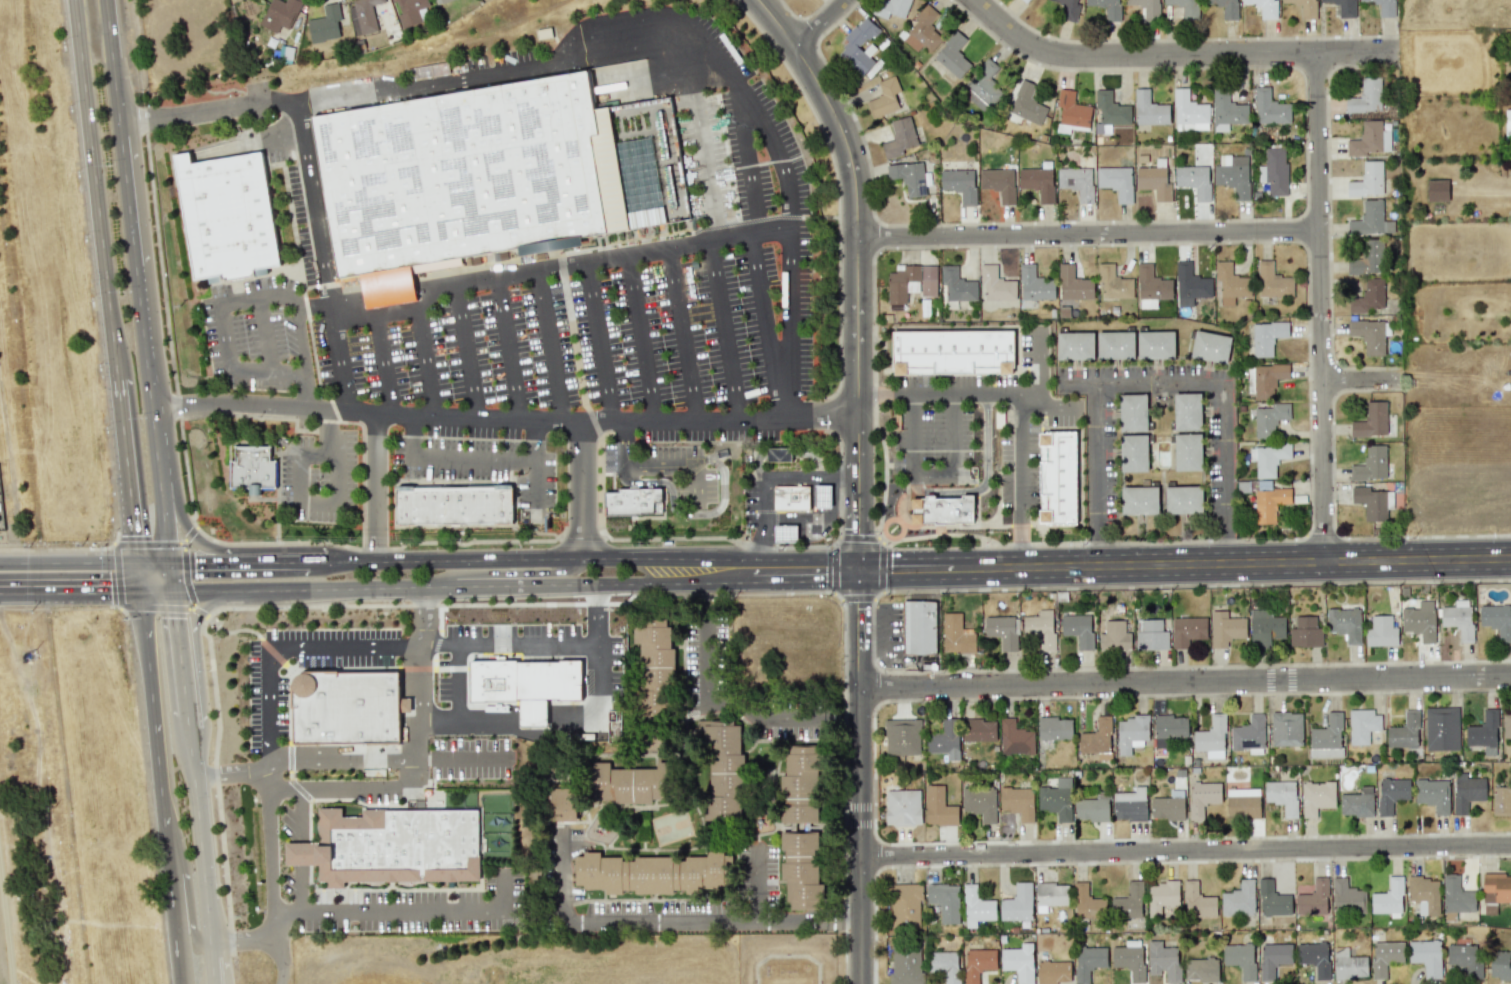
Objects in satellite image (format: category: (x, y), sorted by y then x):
building: (1023, 0)
building: (439, 1)
building: (1185, 7)
building: (1225, 7)
building: (1304, 7)
building: (1343, 7)
building: (1383, 7)
building: (891, 8)
building: (1107, 8)
building: (1265, 8)
building: (1069, 9)
building: (1147, 9)
building: (408, 11)
building: (280, 14)
building: (363, 15)
road: (821, 23)
building: (324, 25)
road: (107, 29)
building: (922, 31)
building: (858, 46)
building: (952, 55)
road: (1178, 55)
road: (404, 84)
building: (982, 87)
road: (114, 89)
building: (1366, 96)
building: (884, 97)
building: (1026, 103)
building: (1270, 108)
building: (1072, 109)
building: (1111, 109)
building: (1149, 109)
building: (1228, 111)
building: (1189, 112)
road: (764, 120)
building: (1508, 122)
building: (900, 137)
building: (1369, 139)
road: (705, 140)
road: (750, 153)
building: (460, 169)
building: (1274, 171)
building: (1233, 175)
building: (908, 177)
building: (1077, 178)
building: (1194, 180)
building: (1367, 180)
building: (1153, 181)
building: (1037, 182)
building: (1116, 182)
building: (998, 183)
building: (959, 184)
road: (837, 188)
building: (1437, 190)
road: (126, 192)
road: (315, 206)
building: (225, 210)
road: (1328, 215)
building: (1370, 219)
road: (1088, 235)
road: (624, 242)
building: (1367, 258)
road: (104, 266)
road: (254, 271)
road: (559, 271)
building: (928, 280)
building: (1272, 281)
building: (1113, 283)
building: (1229, 283)
building: (902, 284)
building: (996, 284)
building: (1034, 284)
building: (1073, 284)
building: (1190, 284)
building: (956, 285)
road: (303, 295)
building: (1367, 296)
road: (790, 301)
road: (1321, 306)
parking lot: (624, 315)
road: (765, 328)
parking lot: (253, 331)
road: (724, 332)
road: (683, 335)
building: (1369, 335)
building: (1266, 337)
road: (267, 338)
road: (639, 340)
road: (599, 343)
building: (1075, 345)
building: (1115, 345)
building: (1155, 345)
road: (143, 346)
building: (1210, 346)
road: (548, 347)
road: (507, 350)
building: (953, 351)
road: (465, 353)
road: (423, 356)
road: (382, 359)
road: (1038, 361)
road: (340, 362)
road: (1307, 363)
railway: (18, 372)
road: (305, 373)
road: (933, 373)
road: (1363, 378)
building: (1265, 379)
road: (1334, 379)
road: (1161, 382)
road: (1077, 383)
road: (874, 393)
road: (311, 395)
road: (583, 395)
road: (965, 395)
building: (1187, 411)
building: (1133, 412)
road: (503, 417)
building: (1270, 418)
road: (321, 420)
building: (1371, 420)
road: (1333, 427)
road: (326, 430)
road: (410, 433)
road: (912, 434)
road: (953, 434)
parking lot: (930, 437)
road: (533, 439)
road: (1099, 450)
road: (1227, 450)
road: (317, 451)
building: (1187, 452)
building: (1133, 453)
building: (779, 454)
road: (472, 456)
road: (1023, 458)
building: (1267, 458)
parking lot: (481, 462)
road: (1079, 464)
building: (1370, 464)
road: (656, 466)
parking lot: (1019, 466)
building: (252, 467)
parking lot: (687, 471)
road: (933, 474)
road: (1039, 474)
building: (1058, 476)
road: (297, 477)
road: (337, 477)
road: (858, 478)
parking lot: (319, 479)
road: (498, 479)
road: (985, 481)
road: (374, 485)
road: (757, 485)
road: (536, 487)
road: (581, 489)
road: (159, 494)
road: (278, 496)
building: (822, 496)
road: (263, 497)
building: (791, 497)
building: (1183, 499)
building: (1139, 500)
building: (633, 502)
building: (1370, 502)
road: (317, 503)
building: (1269, 503)
building: (453, 504)
building: (943, 509)
road: (977, 510)
road: (663, 511)
road: (695, 513)
road: (1332, 518)
road: (192, 520)
power substation: (1, 521)
road: (954, 525)
building: (785, 533)
road: (858, 533)
road: (578, 535)
road: (1101, 539)
road: (1231, 539)
road: (1024, 542)
road: (146, 543)
road: (776, 544)
road: (134, 546)
road: (216, 547)
road: (62, 548)
road: (534, 557)
road: (68, 558)
traffic signals: (136, 559)
road: (151, 560)
traffic signals: (166, 561)
road: (237, 561)
road: (1135, 561)
road: (882, 564)
road: (831, 568)
road: (183, 571)
road: (508, 572)
road: (138, 574)
road: (112, 576)
road: (465, 584)
road: (70, 586)
traffic signals: (140, 589)
road: (155, 589)
traffic signals: (170, 590)
road: (706, 594)
road: (856, 597)
road: (558, 601)
road: (154, 607)
road: (119, 608)
road: (597, 612)
building: (1458, 619)
building: (1420, 620)
building: (1497, 620)
building: (1345, 623)
building: (920, 627)
building: (1265, 627)
building: (1040, 628)
building: (1225, 628)
building: (1077, 629)
road: (872, 630)
building: (1187, 630)
building: (1003, 631)
road: (251, 632)
building: (1305, 632)
building: (1381, 632)
road: (438, 635)
building: (956, 635)
building: (1115, 635)
building: (1151, 635)
road: (175, 637)
road: (509, 644)
road: (195, 645)
road: (276, 646)
building: (654, 647)
parking lot: (705, 659)
road: (706, 659)
road: (451, 667)
road: (292, 669)
building: (525, 680)
road: (1185, 682)
road: (150, 697)
road: (581, 703)
road: (723, 704)
road: (1080, 705)
building: (346, 706)
parking lot: (266, 710)
building: (532, 713)
parking lot: (789, 715)
road: (784, 718)
road: (844, 718)
building: (1506, 724)
building: (1363, 725)
building: (1054, 728)
building: (1169, 728)
building: (1286, 728)
building: (1441, 728)
building: (979, 729)
building: (1404, 732)
building: (1131, 733)
building: (1484, 733)
building: (1248, 734)
building: (902, 736)
building: (1015, 738)
building: (1211, 738)
building: (1327, 738)
building: (1097, 739)
building: (945, 740)
road: (268, 768)
building: (723, 769)
road: (873, 770)
road: (416, 776)
building: (628, 784)
building: (800, 785)
building: (1467, 791)
building: (1391, 794)
building: (1433, 794)
building: (1282, 796)
railway: (67, 797)
building: (1317, 797)
building: (1202, 798)
building: (1056, 799)
building: (979, 801)
building: (1501, 801)
road: (308, 802)
building: (563, 802)
building: (1017, 802)
building: (1357, 802)
building: (1243, 803)
building: (1130, 805)
building: (902, 807)
building: (938, 807)
building: (1167, 808)
building: (1091, 809)
road: (198, 827)
building: (398, 845)
road: (1185, 851)
building: (801, 869)
building: (654, 873)
road: (560, 874)
road: (184, 875)
road: (757, 882)
building: (1496, 887)
road: (172, 894)
building: (1424, 894)
building: (1051, 895)
building: (1456, 895)
building: (1161, 897)
building: (1347, 897)
building: (1313, 898)
building: (1238, 899)
building: (1388, 899)
building: (945, 900)
building: (1273, 900)
building: (1198, 901)
building: (1128, 902)
building: (1017, 903)
building: (1087, 903)
building: (905, 905)
building: (977, 907)
road: (408, 911)
road: (805, 918)
road: (656, 919)
road: (266, 926)
road: (264, 936)
building: (1385, 956)
building: (1426, 956)
park: (785, 958)
building: (1314, 958)
building: (1466, 958)
building: (1240, 959)
building: (1273, 959)
building: (1088, 961)
building: (1164, 961)
road: (210, 962)
building: (1018, 962)
building: (978, 963)
building: (1348, 964)
building: (906, 965)
building: (945, 965)
building: (1500, 965)
building: (1201, 969)
building: (1053, 972)

